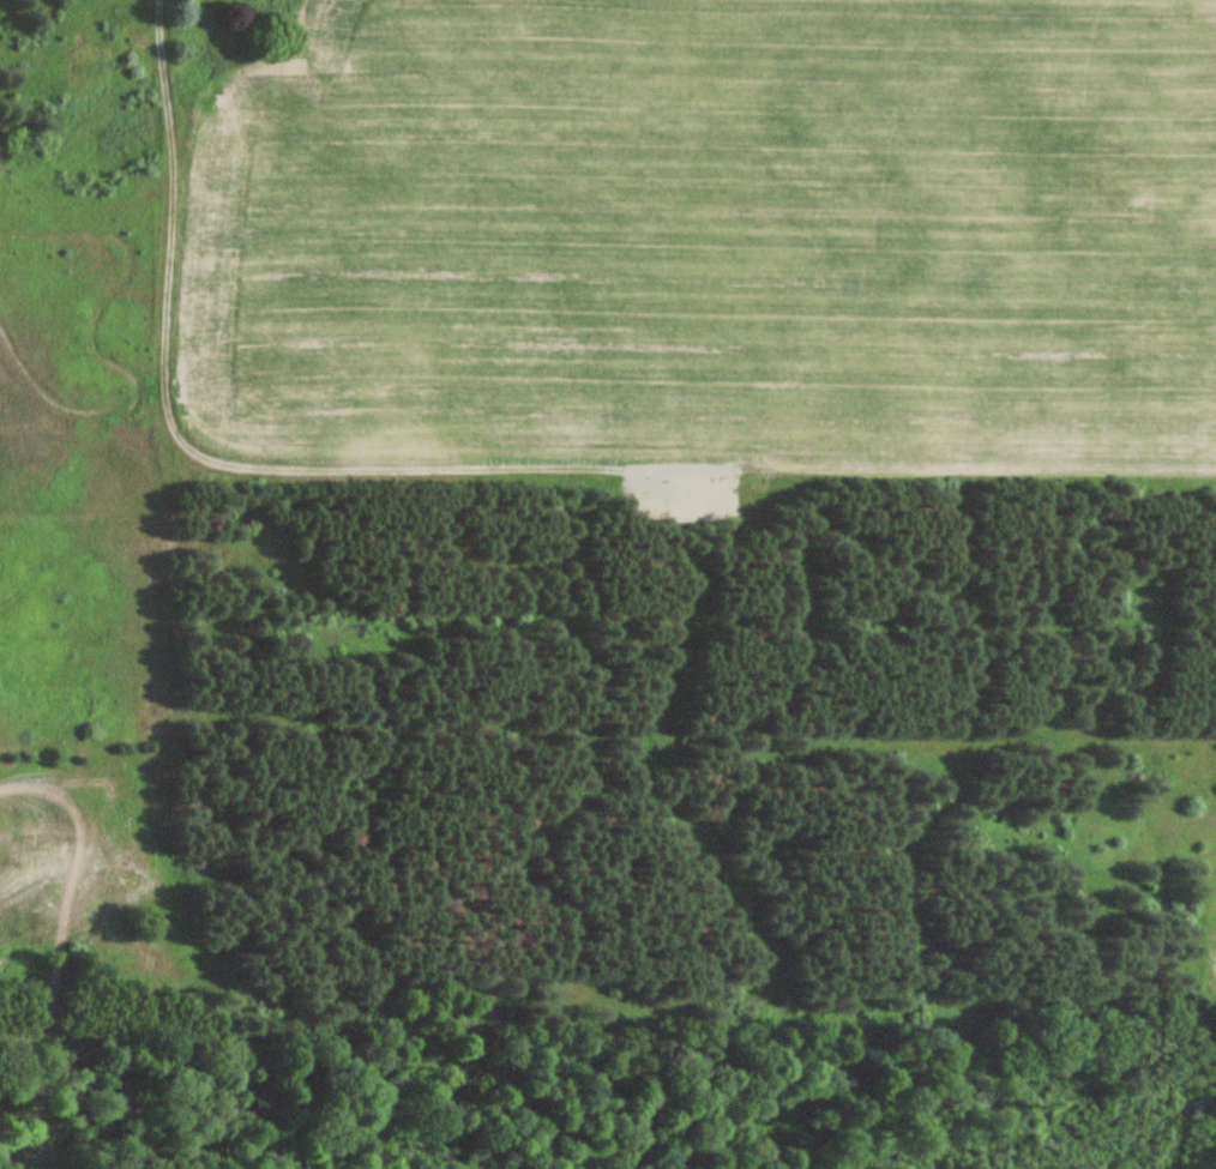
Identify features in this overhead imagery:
road: (941, 469)

